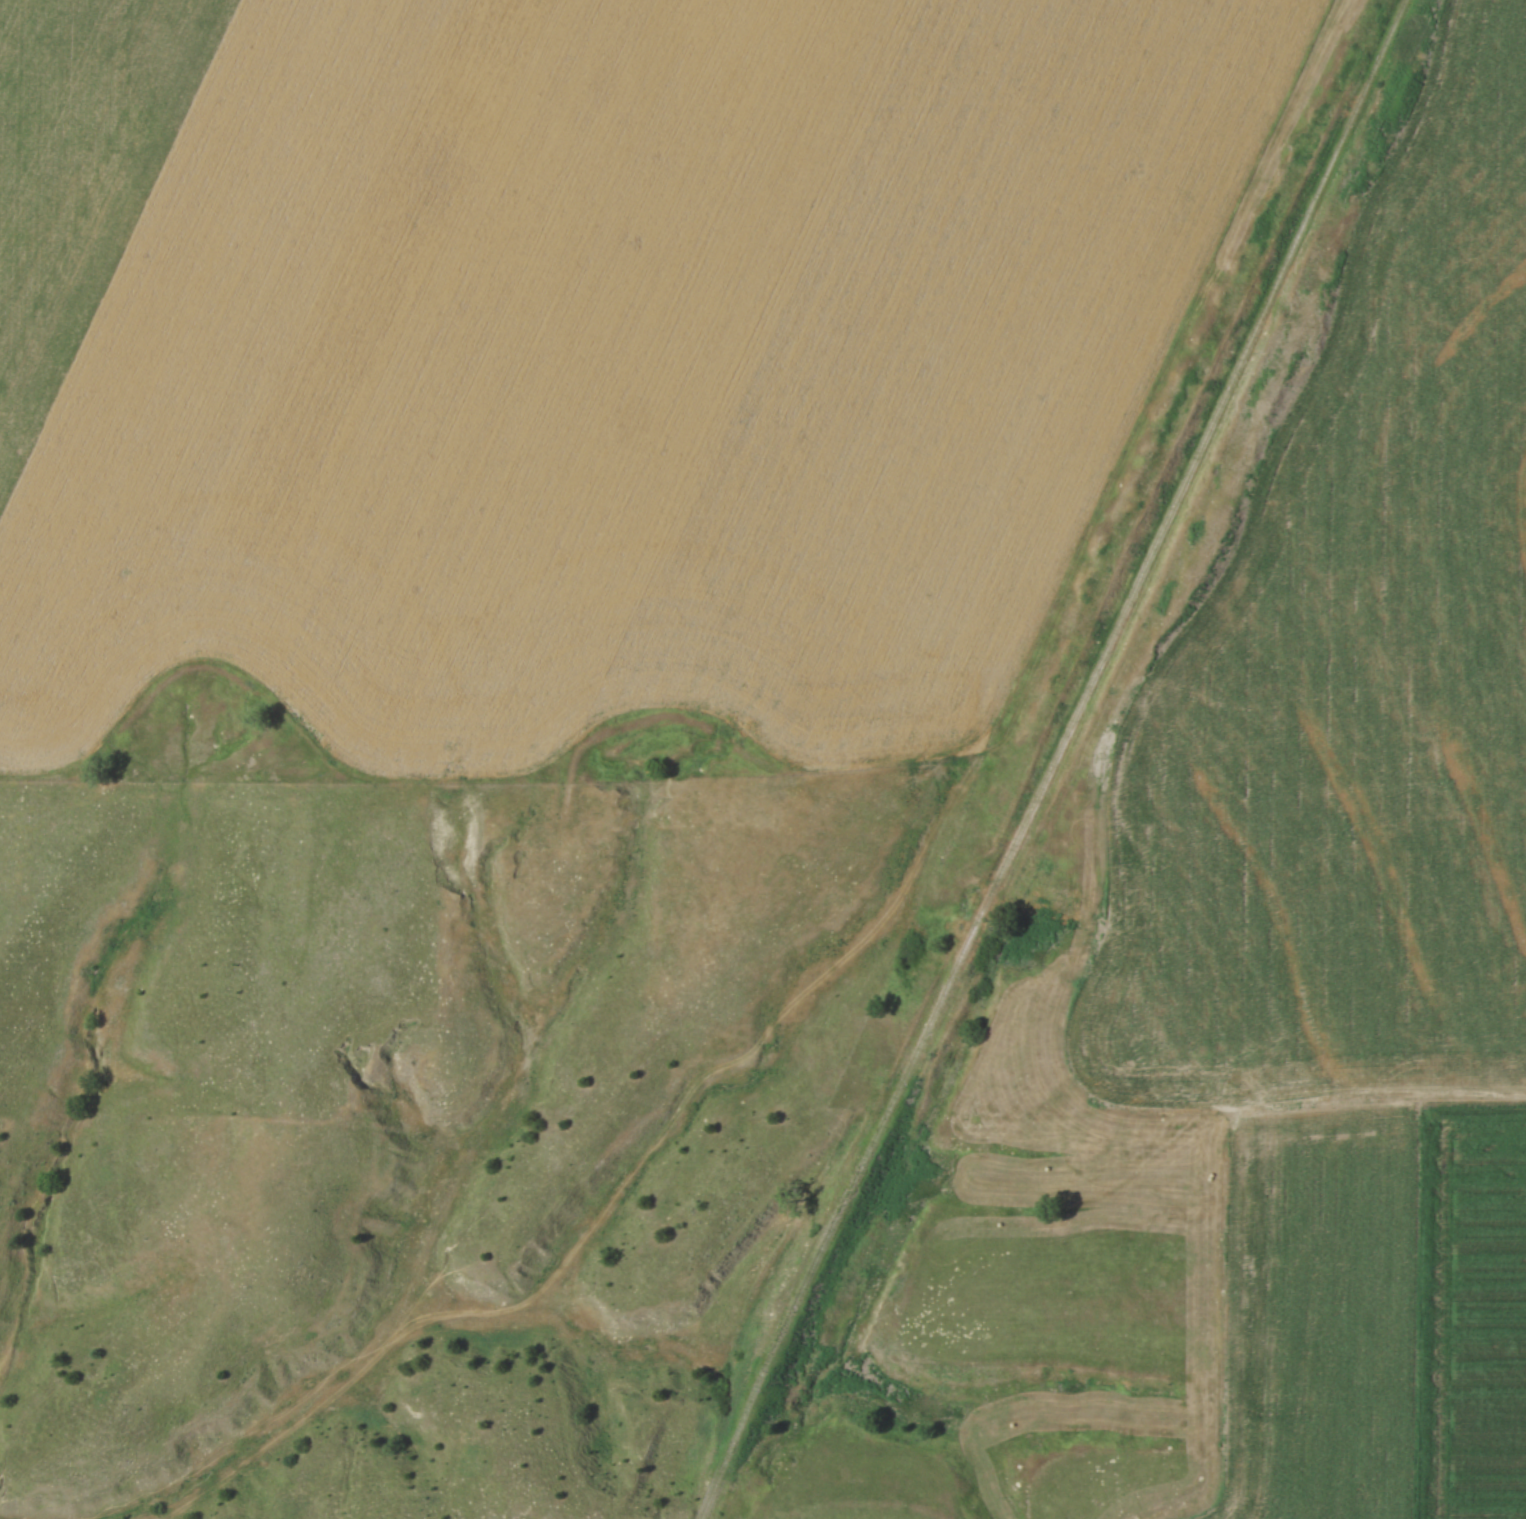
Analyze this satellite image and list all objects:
crop: (583, 351)
railway: (1078, 759)

